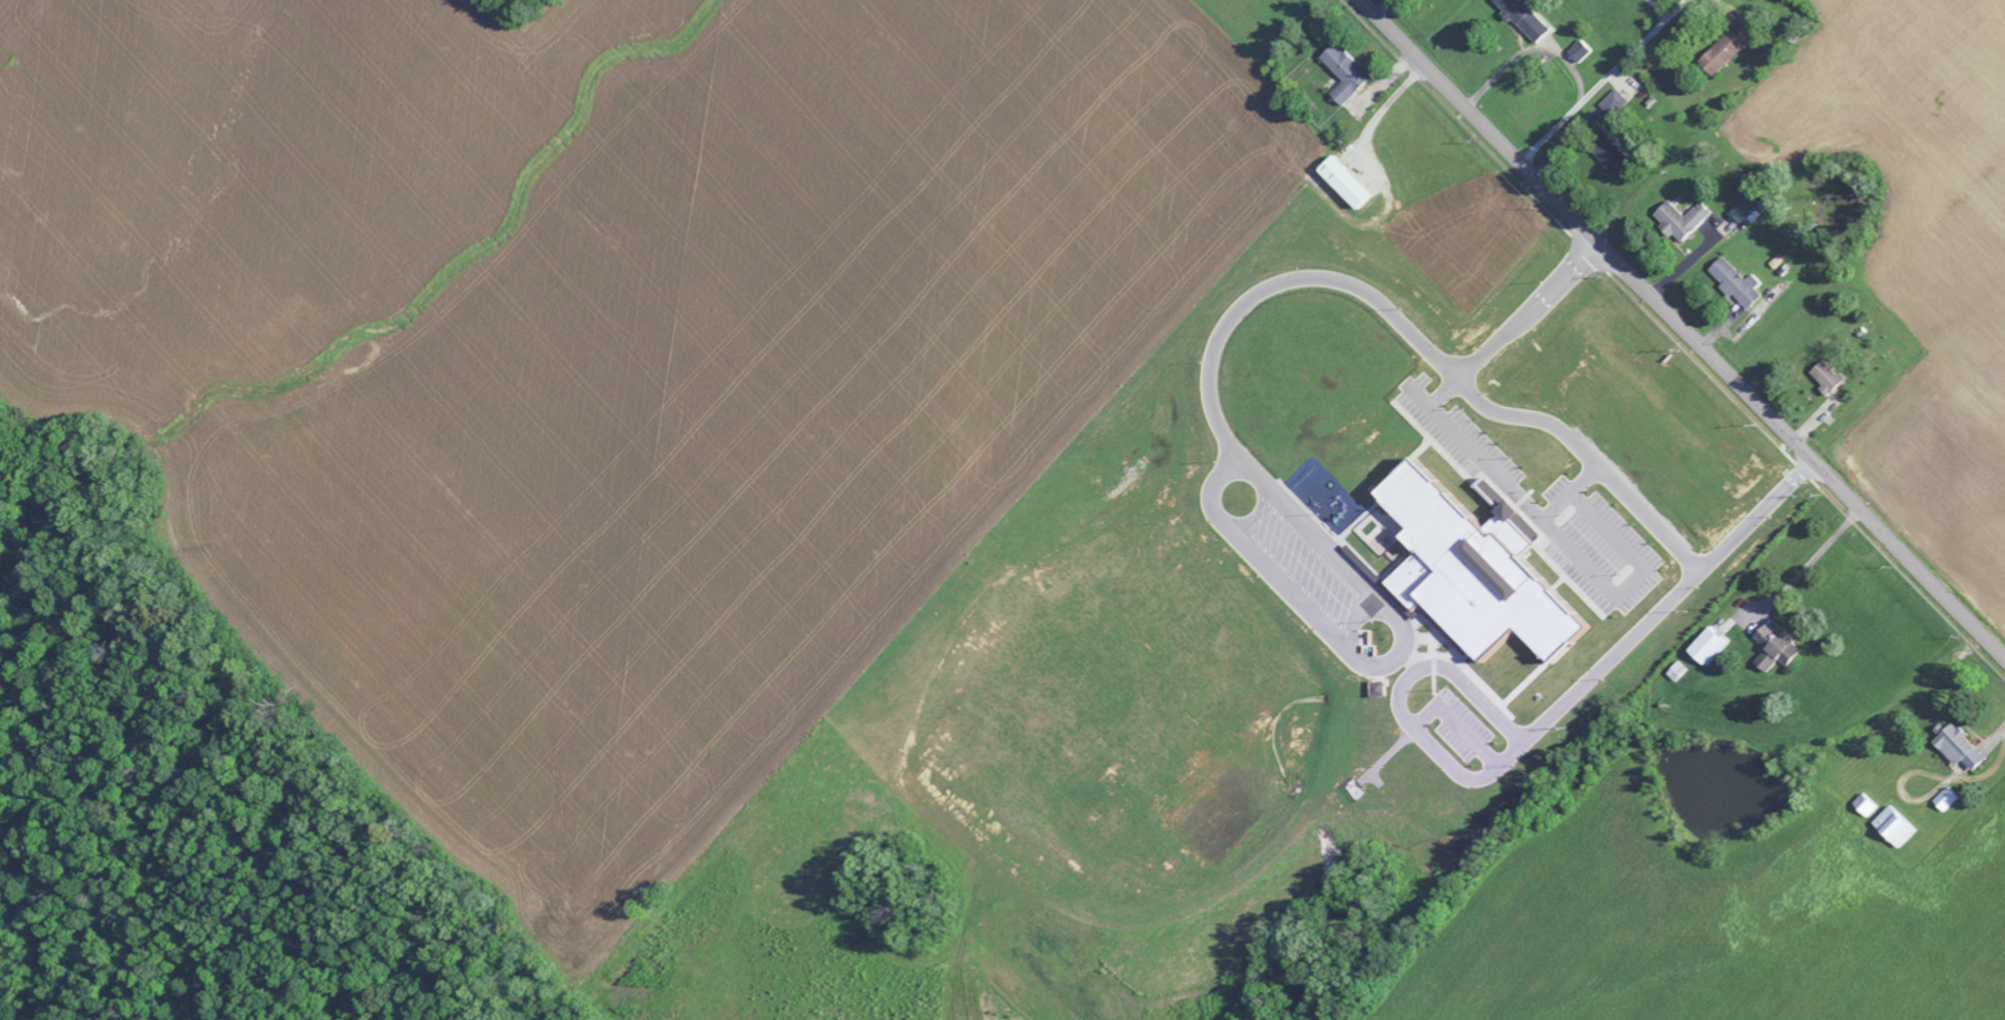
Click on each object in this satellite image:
building: (1523, 17)
road: (1528, 50)
building: (1721, 50)
building: (1577, 51)
building: (1342, 72)
road: (1600, 81)
building: (1614, 101)
building: (1396, 139)
building: (1609, 154)
building: (1342, 183)
building: (1740, 210)
building: (1678, 219)
road: (1339, 281)
building: (1733, 282)
road: (1681, 330)
building: (1823, 375)
road: (1586, 460)
road: (1249, 462)
road: (1567, 495)
building: (1509, 527)
road: (1555, 537)
road: (1325, 539)
road: (1807, 564)
building: (1464, 571)
road: (1289, 587)
building: (1704, 645)
building: (1772, 645)
road: (1401, 653)
building: (1377, 688)
road: (1460, 726)
road: (1542, 727)
building: (1955, 746)

